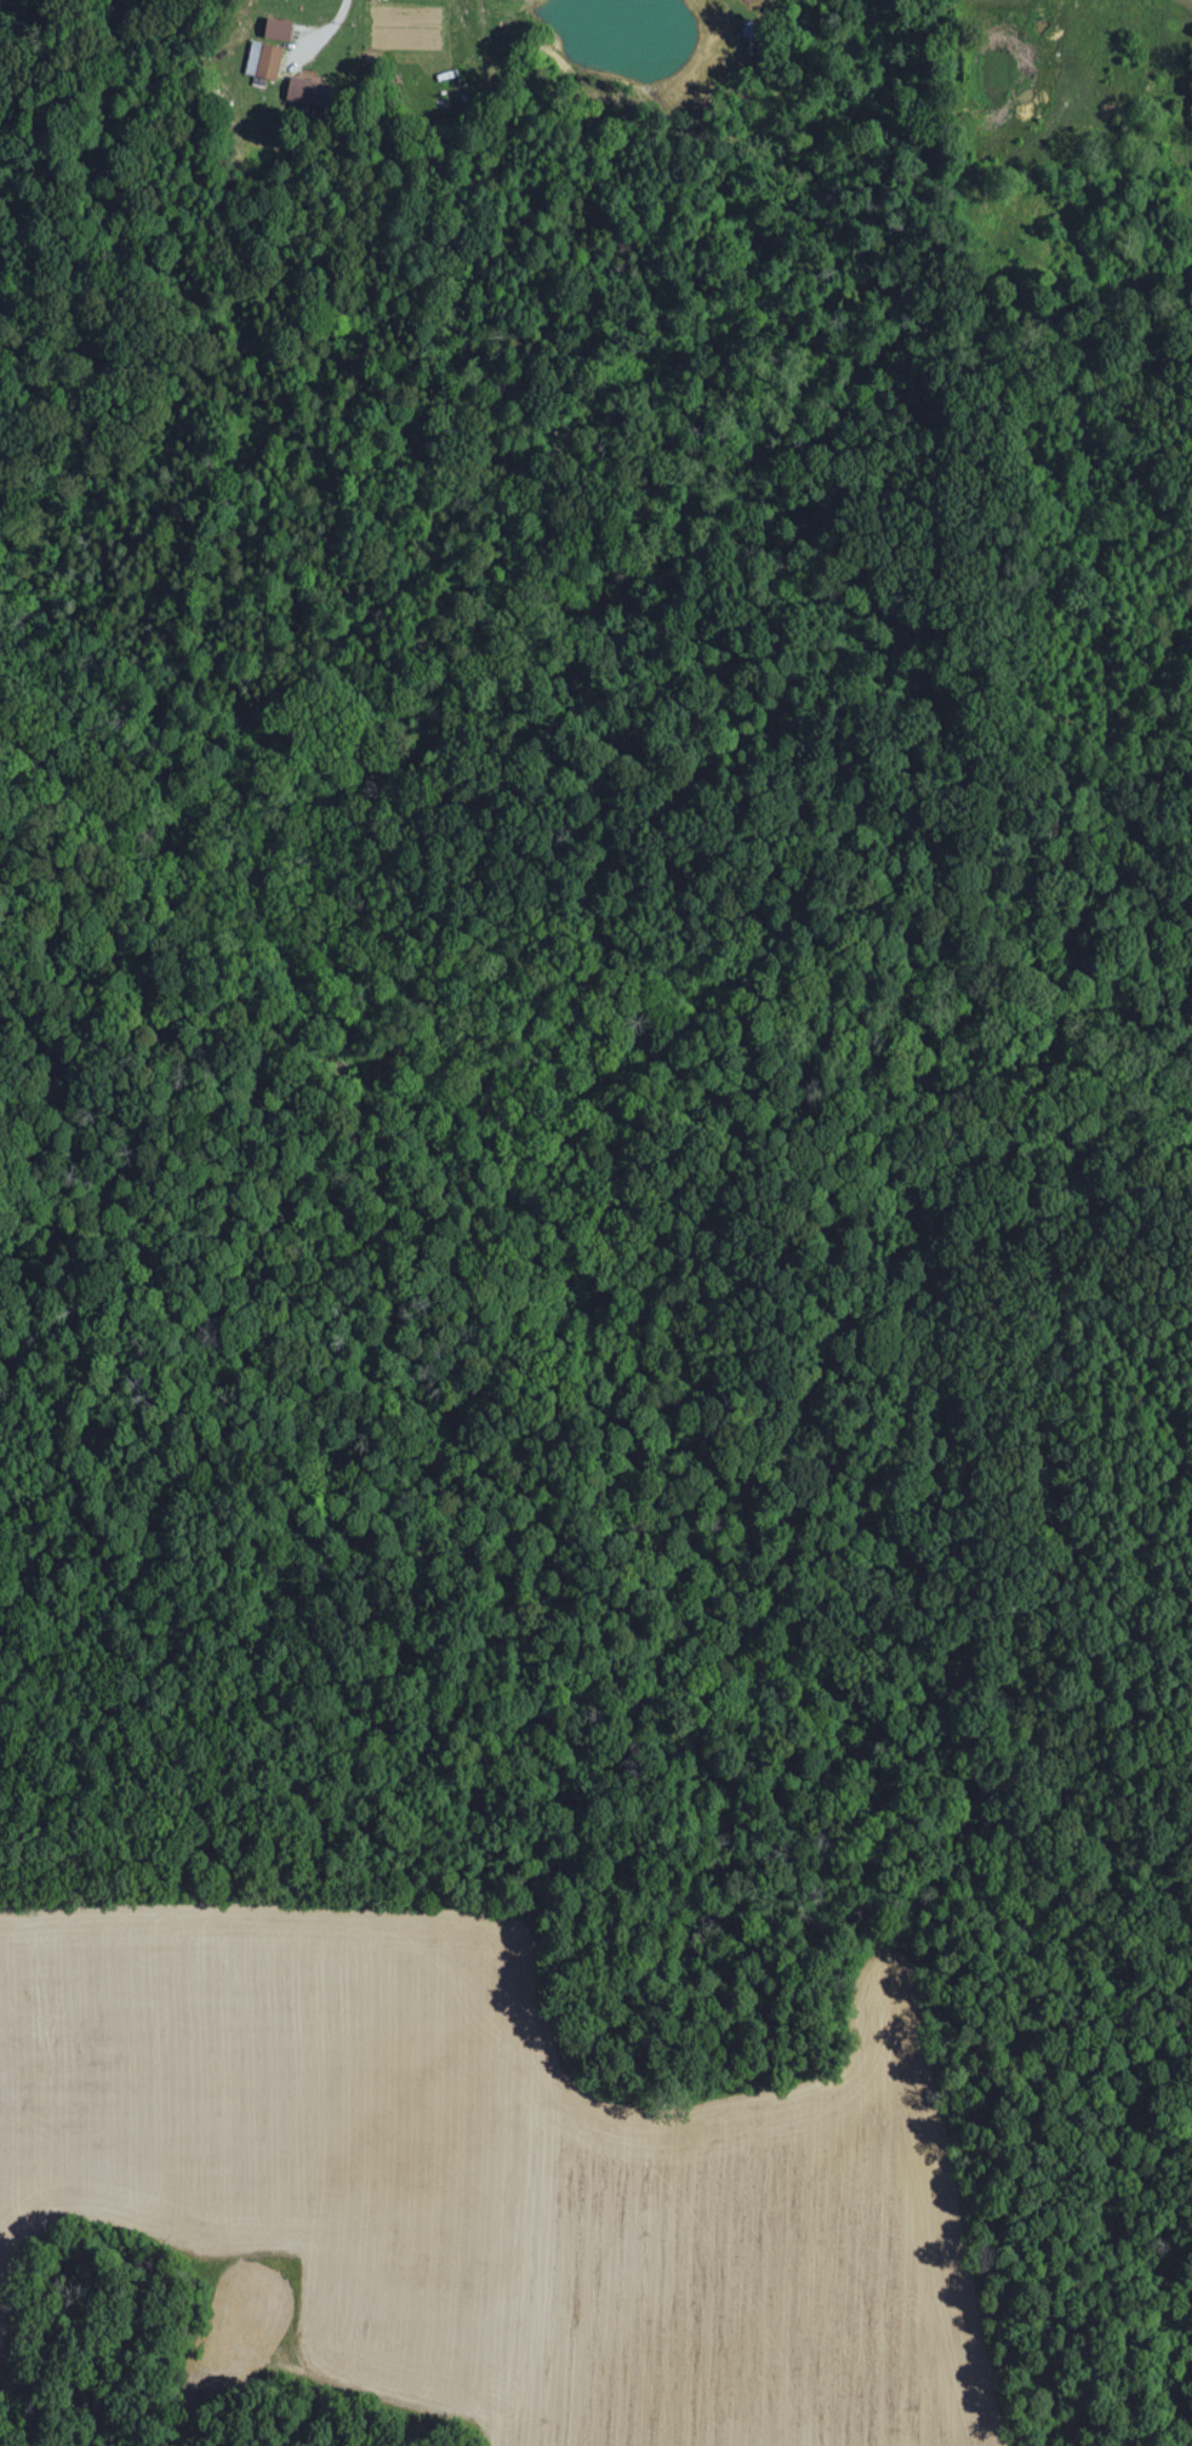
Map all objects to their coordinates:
road: (323, 27)
building: (276, 29)
building: (264, 61)
building: (310, 92)

